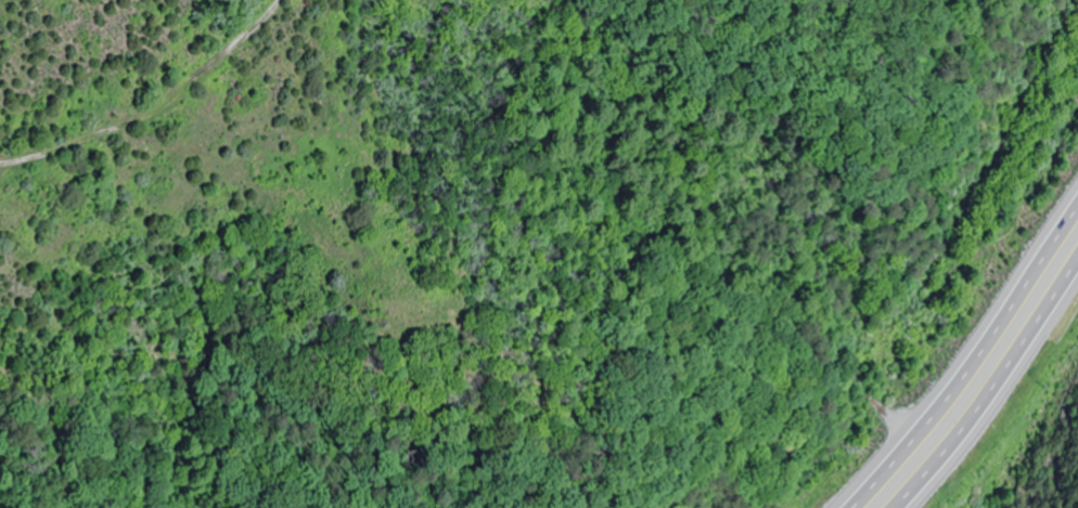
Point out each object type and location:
road: (974, 367)
road: (993, 391)

